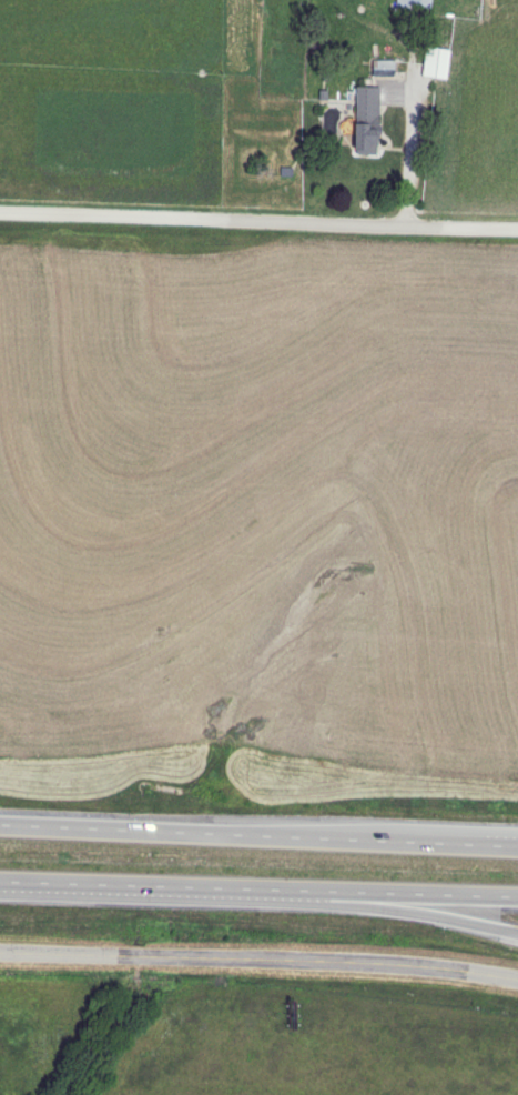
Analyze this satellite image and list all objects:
building: (412, 6)
building: (434, 62)
building: (365, 120)
road: (408, 158)
road: (258, 223)
road: (258, 833)
road: (398, 834)
road: (258, 891)
road: (392, 908)
road: (258, 960)
crop: (33, 1023)
crop: (322, 1046)

